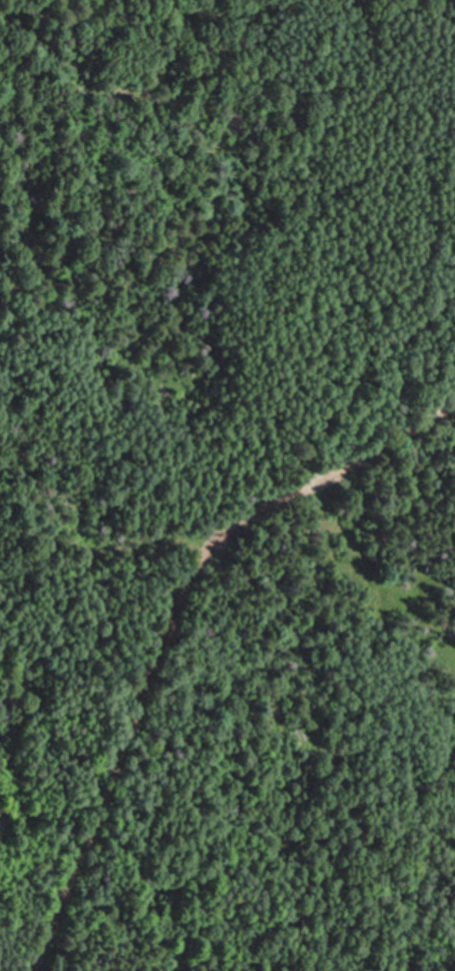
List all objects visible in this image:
road: (260, 5)
road: (426, 19)
road: (334, 472)
road: (106, 541)
road: (120, 754)

